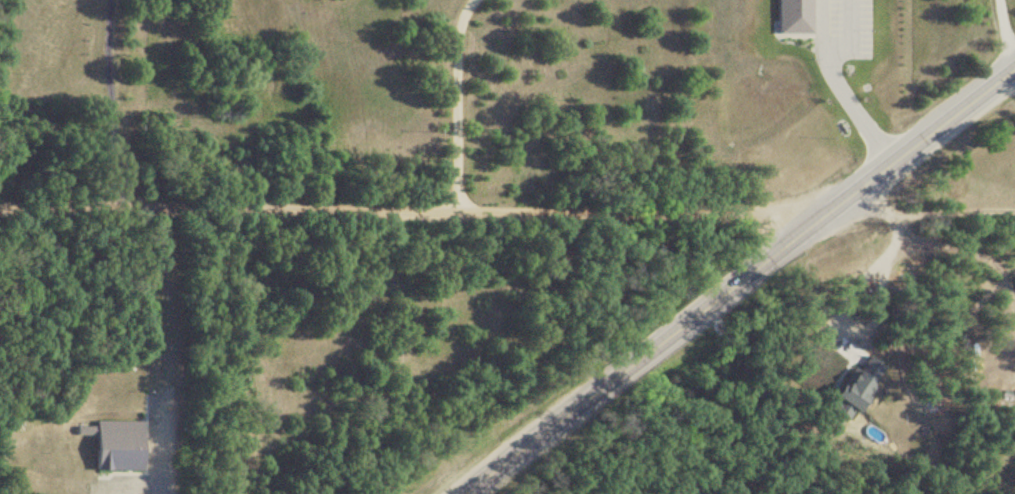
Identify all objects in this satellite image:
road: (1006, 32)
road: (850, 99)
road: (111, 101)
road: (457, 103)
road: (413, 208)
road: (921, 209)
road: (736, 278)
road: (856, 279)
road: (161, 347)
building: (846, 387)
building: (118, 446)

